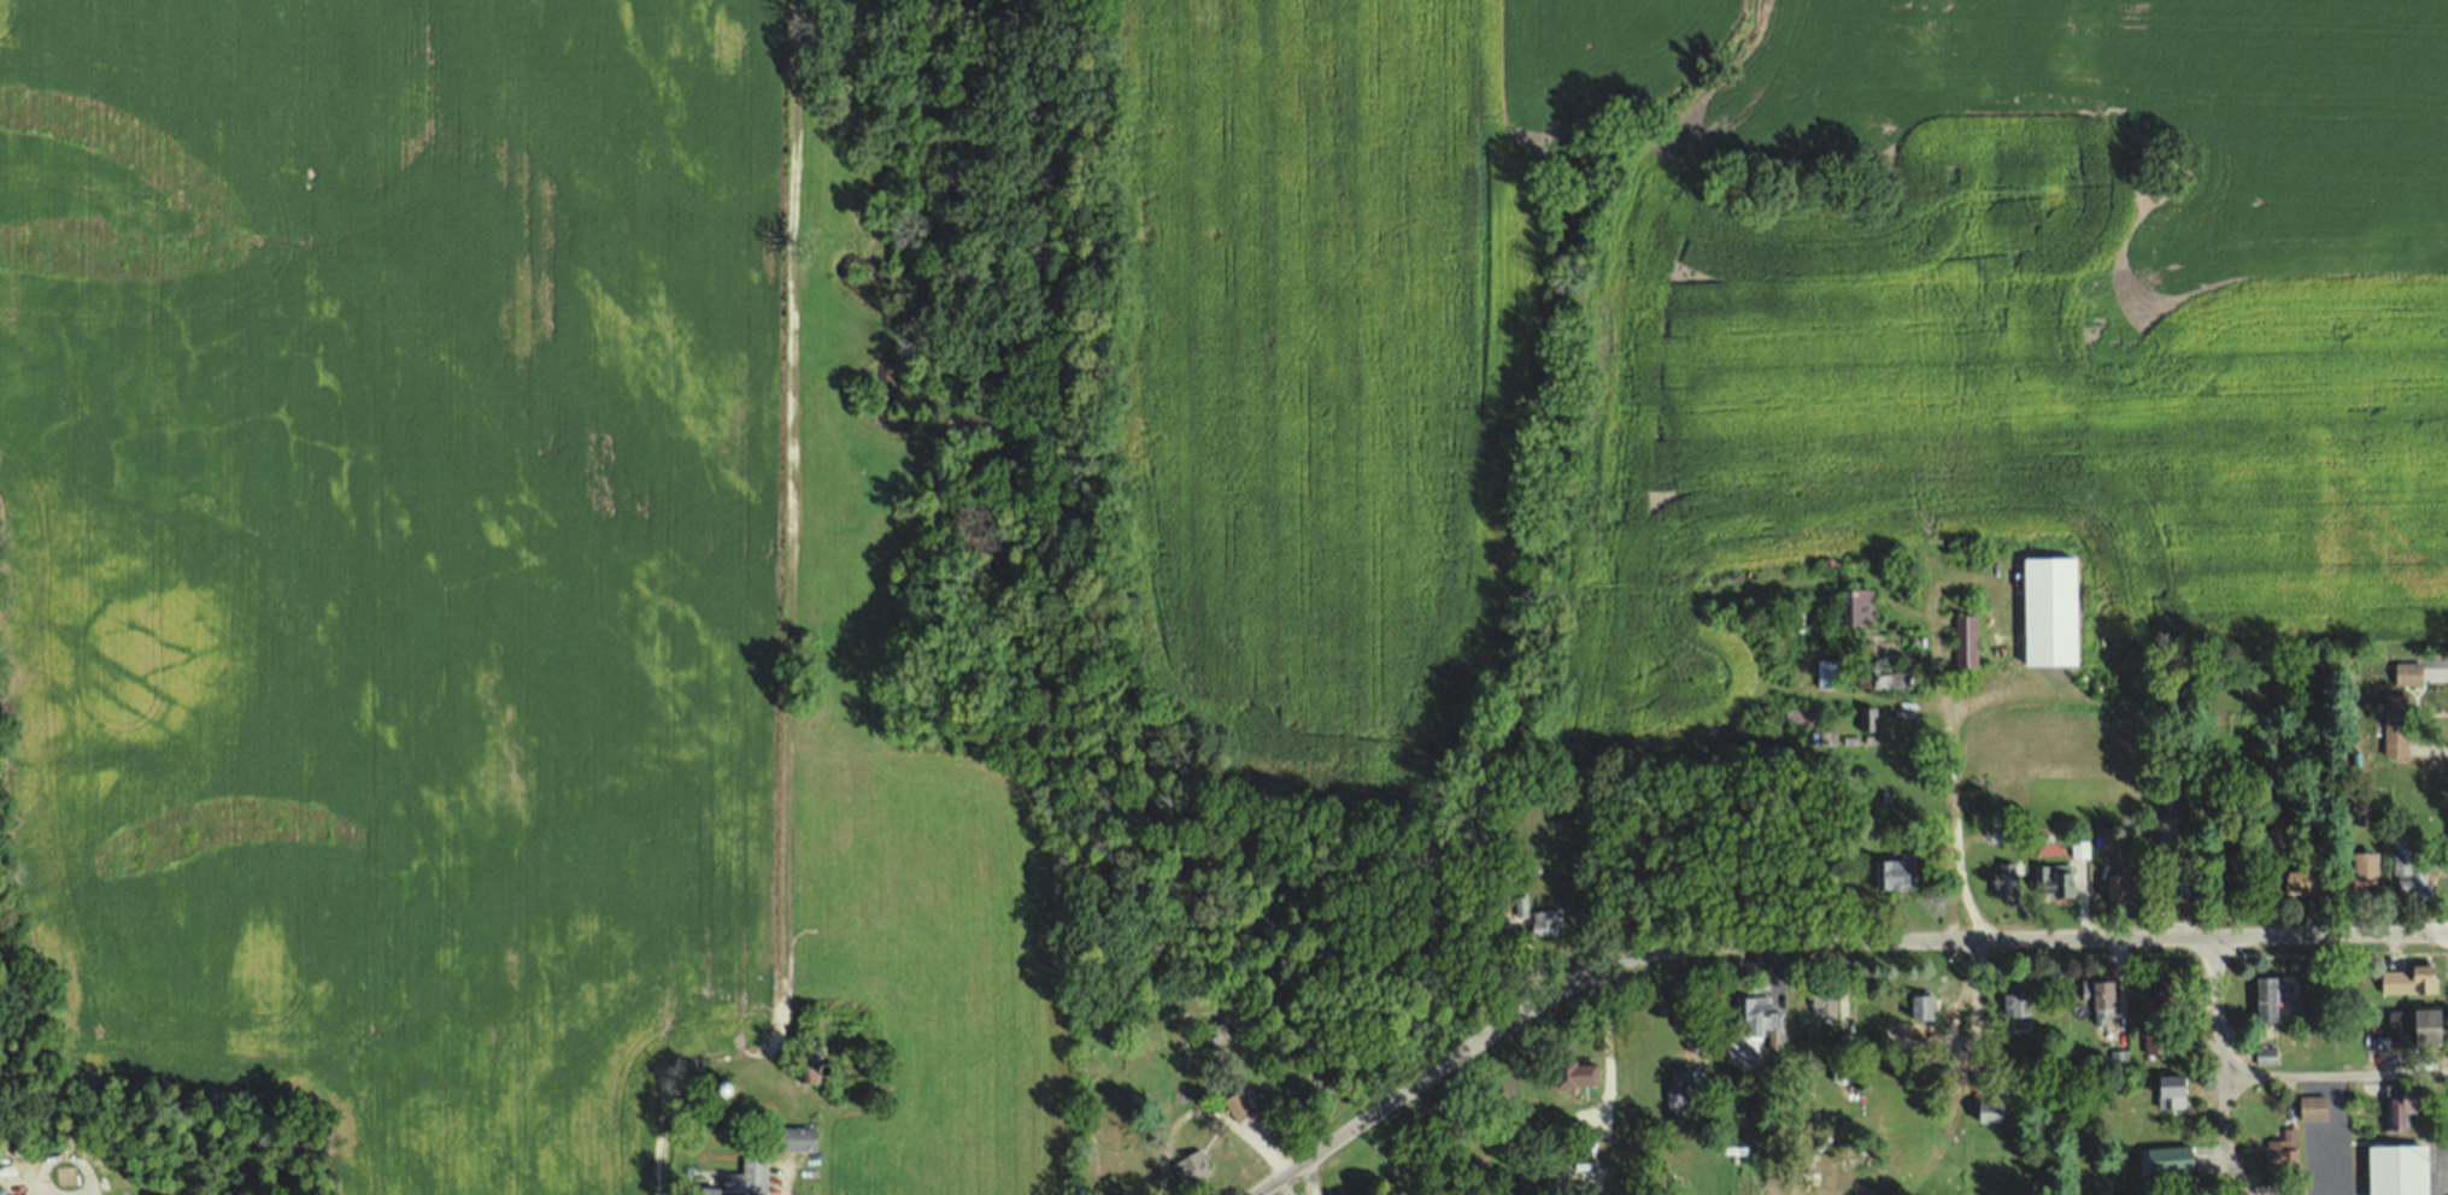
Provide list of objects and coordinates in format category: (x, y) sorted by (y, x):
building: (1859, 606)
building: (2053, 613)
building: (1967, 641)
building: (2402, 671)
building: (1830, 673)
building: (1890, 676)
building: (1866, 718)
building: (2396, 723)
building: (1810, 724)
building: (2356, 800)
road: (1951, 822)
building: (2111, 837)
building: (2079, 848)
building: (2408, 871)
building: (1896, 872)
building: (2370, 872)
building: (2178, 875)
building: (2056, 878)
building: (2008, 881)
building: (2126, 881)
building: (2305, 881)
building: (1521, 908)
road: (2207, 916)
building: (1546, 924)
road: (1921, 938)
building: (2413, 978)
building: (2174, 991)
building: (2277, 994)
building: (2103, 997)
building: (1824, 1003)
building: (2018, 1007)
building: (1921, 1011)
building: (1760, 1016)
building: (2434, 1024)
building: (2158, 1037)
building: (2267, 1053)
building: (809, 1067)
building: (1842, 1070)
road: (2335, 1071)
building: (1572, 1072)
road: (1409, 1087)
building: (1675, 1088)
building: (2176, 1089)
building: (1238, 1106)
building: (2314, 1108)
building: (2409, 1108)
building: (1994, 1111)
road: (2221, 1130)
building: (797, 1140)
road: (1322, 1147)
building: (2284, 1149)
building: (2324, 1149)
building: (2168, 1158)
building: (1188, 1170)
building: (2403, 1171)
road: (782, 1177)
building: (746, 1181)

